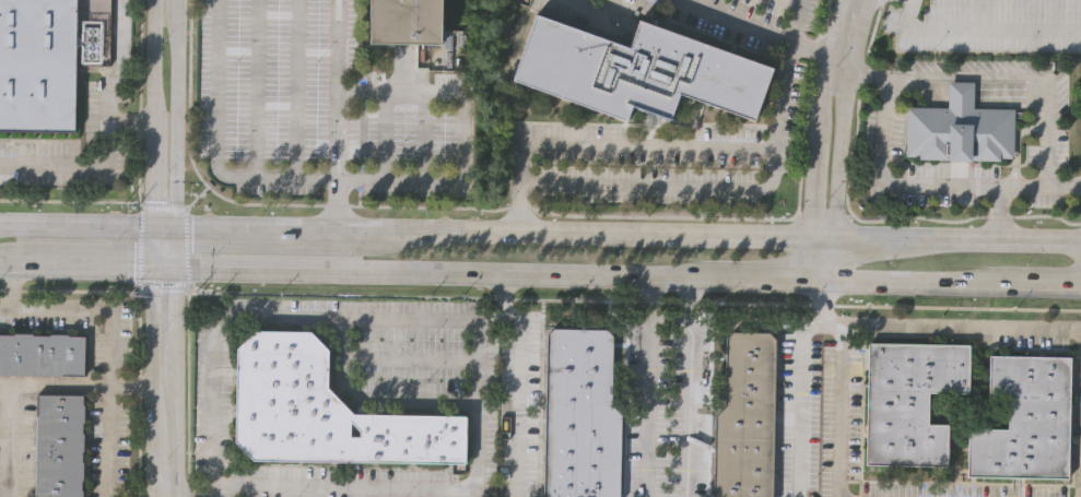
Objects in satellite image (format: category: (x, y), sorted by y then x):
building: (403, 22)
road: (737, 22)
building: (94, 31)
road: (978, 32)
road: (811, 48)
building: (38, 64)
building: (638, 68)
road: (917, 91)
road: (960, 92)
road: (178, 114)
road: (337, 115)
road: (821, 117)
road: (842, 117)
road: (1044, 117)
road: (128, 121)
building: (959, 128)
road: (105, 132)
road: (461, 140)
road: (680, 146)
road: (1045, 157)
road: (138, 169)
road: (259, 178)
road: (666, 185)
road: (910, 186)
road: (196, 197)
road: (512, 209)
road: (997, 213)
road: (965, 217)
road: (820, 218)
road: (74, 225)
traffic signals: (150, 226)
road: (164, 227)
traffic signals: (178, 228)
road: (292, 230)
road: (608, 234)
road: (822, 237)
road: (871, 238)
road: (995, 240)
road: (178, 245)
road: (138, 246)
road: (185, 247)
road: (150, 248)
road: (818, 256)
road: (829, 257)
road: (164, 262)
traffic signals: (178, 262)
road: (79, 263)
traffic signals: (150, 263)
road: (4, 264)
road: (446, 267)
road: (769, 274)
road: (919, 277)
road: (1047, 282)
road: (9, 286)
road: (68, 289)
road: (632, 300)
road: (487, 311)
road: (345, 317)
road: (961, 329)
road: (110, 348)
building: (42, 352)
road: (516, 378)
road: (177, 379)
road: (804, 381)
road: (4, 383)
road: (648, 383)
road: (24, 384)
road: (689, 384)
building: (909, 400)
road: (839, 401)
building: (322, 410)
building: (577, 415)
building: (745, 417)
building: (1024, 418)
building: (56, 445)
road: (333, 482)
road: (193, 494)
road: (174, 495)

